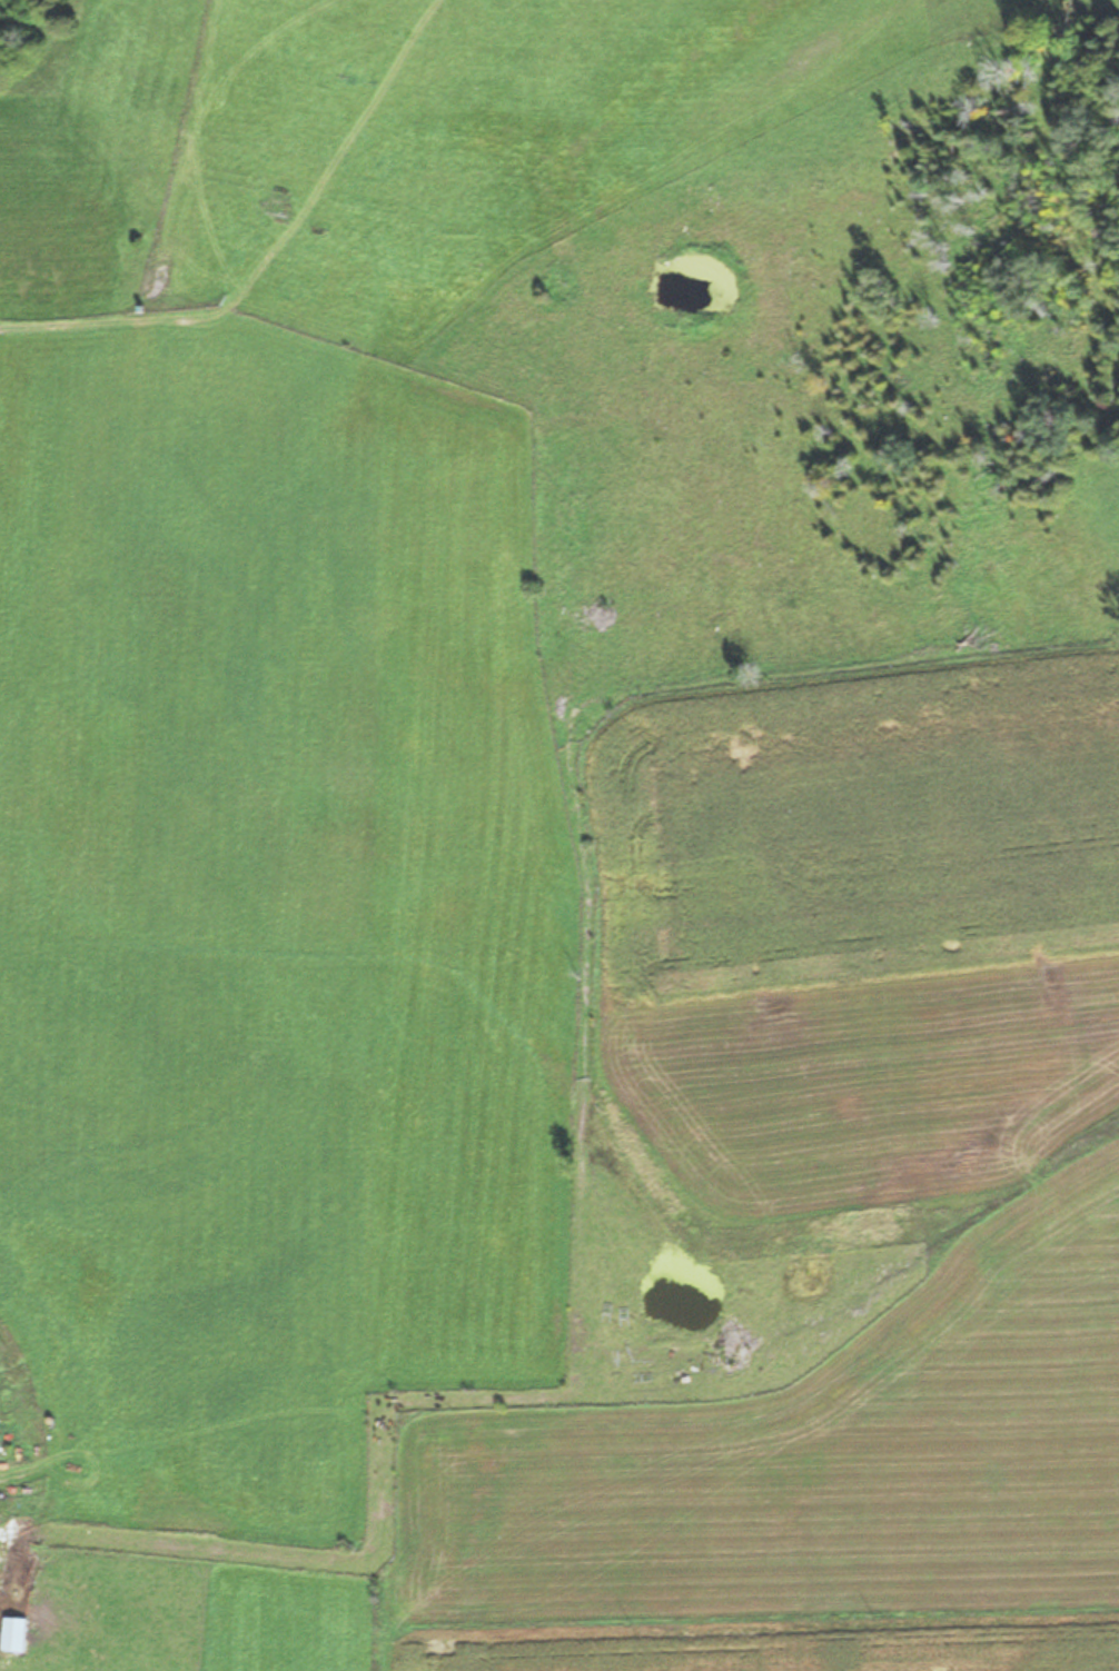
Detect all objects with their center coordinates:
building: (0, 1525)
building: (13, 1633)

